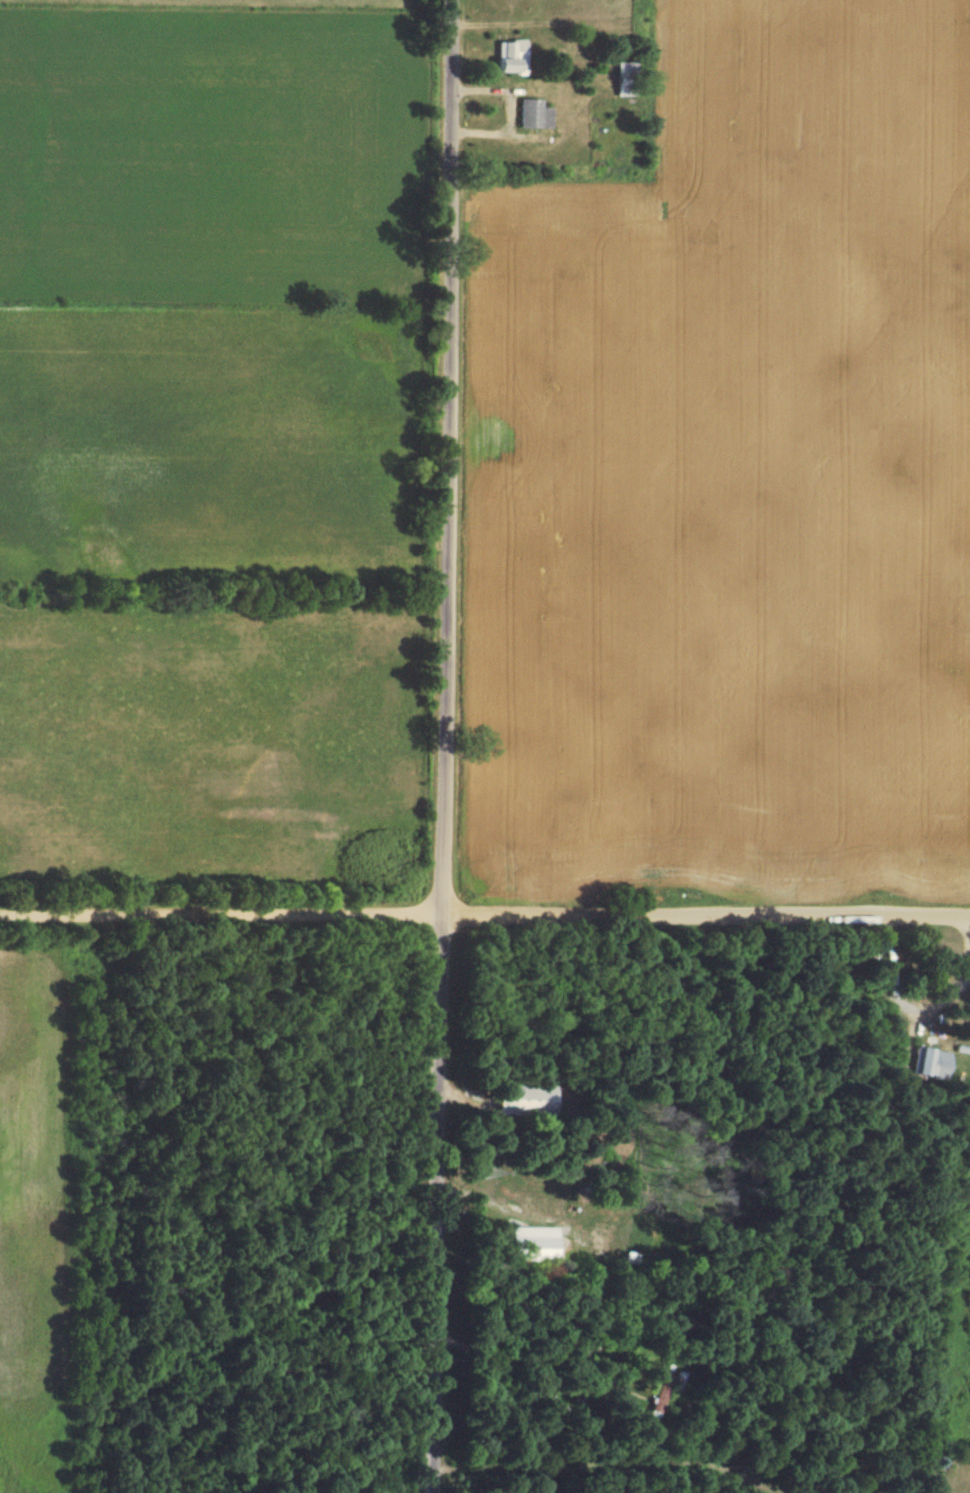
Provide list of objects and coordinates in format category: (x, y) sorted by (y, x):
building: (505, 53)
building: (624, 66)
building: (533, 113)
road: (444, 746)
road: (485, 915)
building: (928, 1062)

